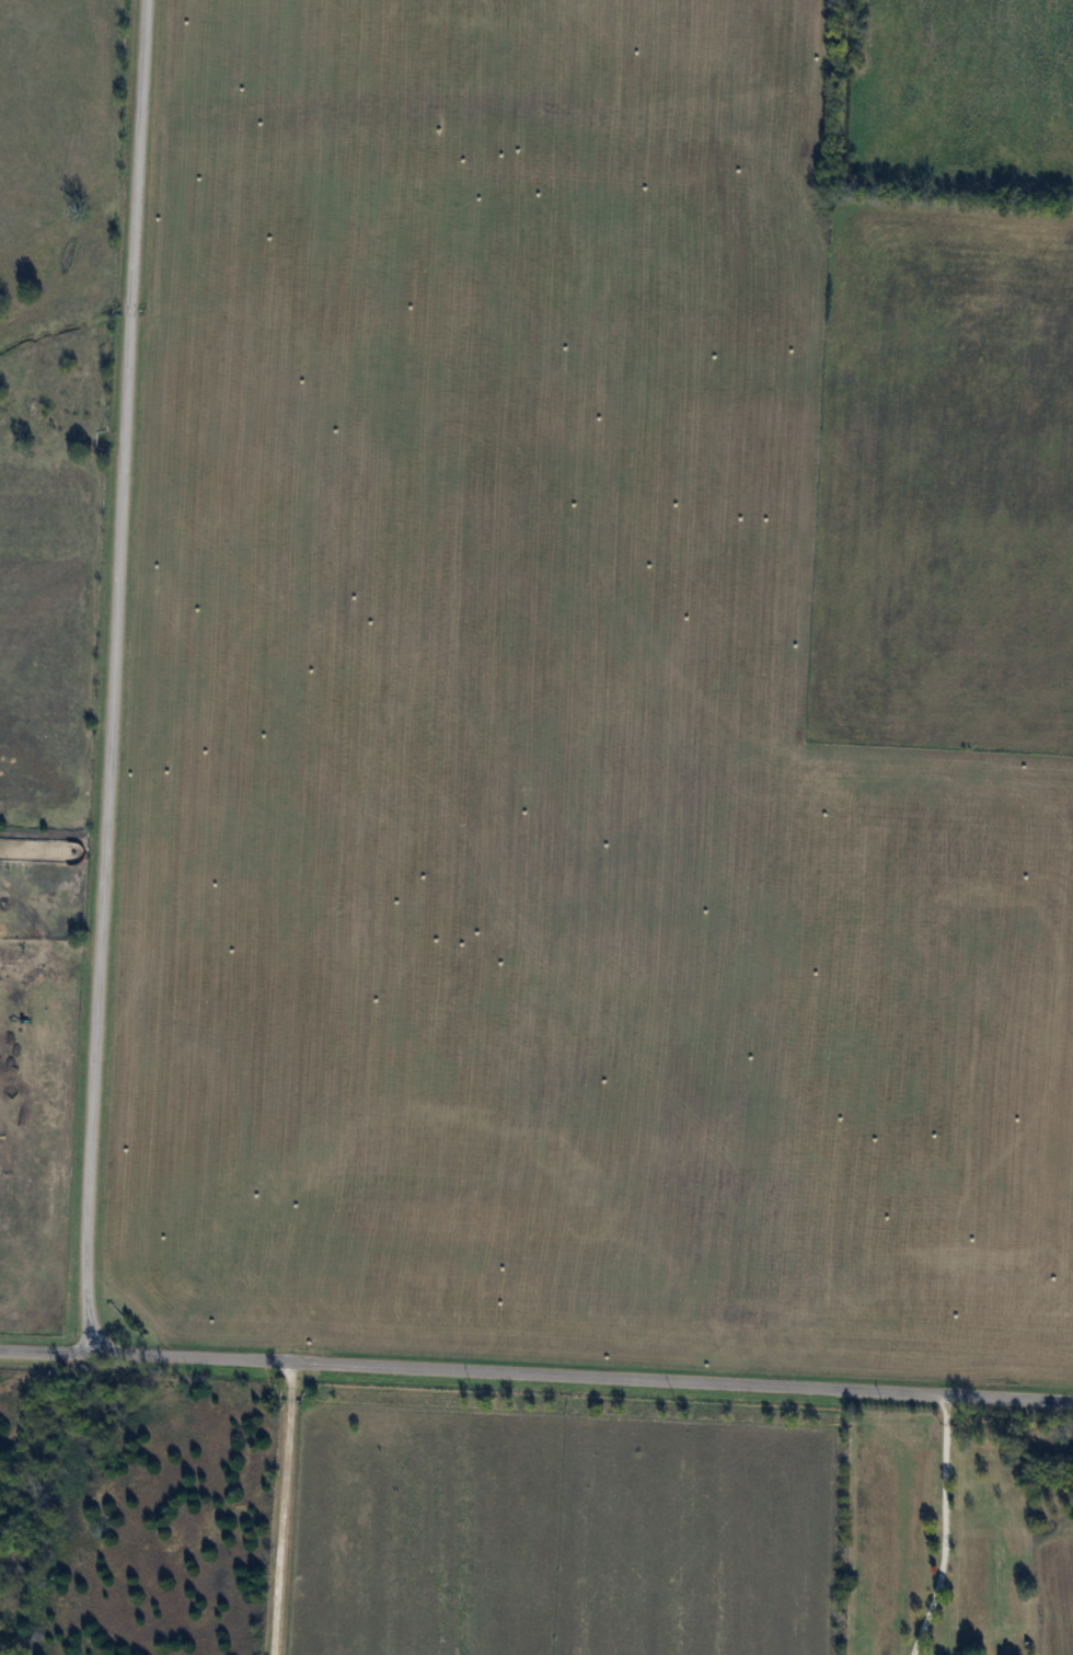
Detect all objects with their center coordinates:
road: (107, 677)
road: (536, 1370)
road: (276, 1506)
road: (937, 1526)

